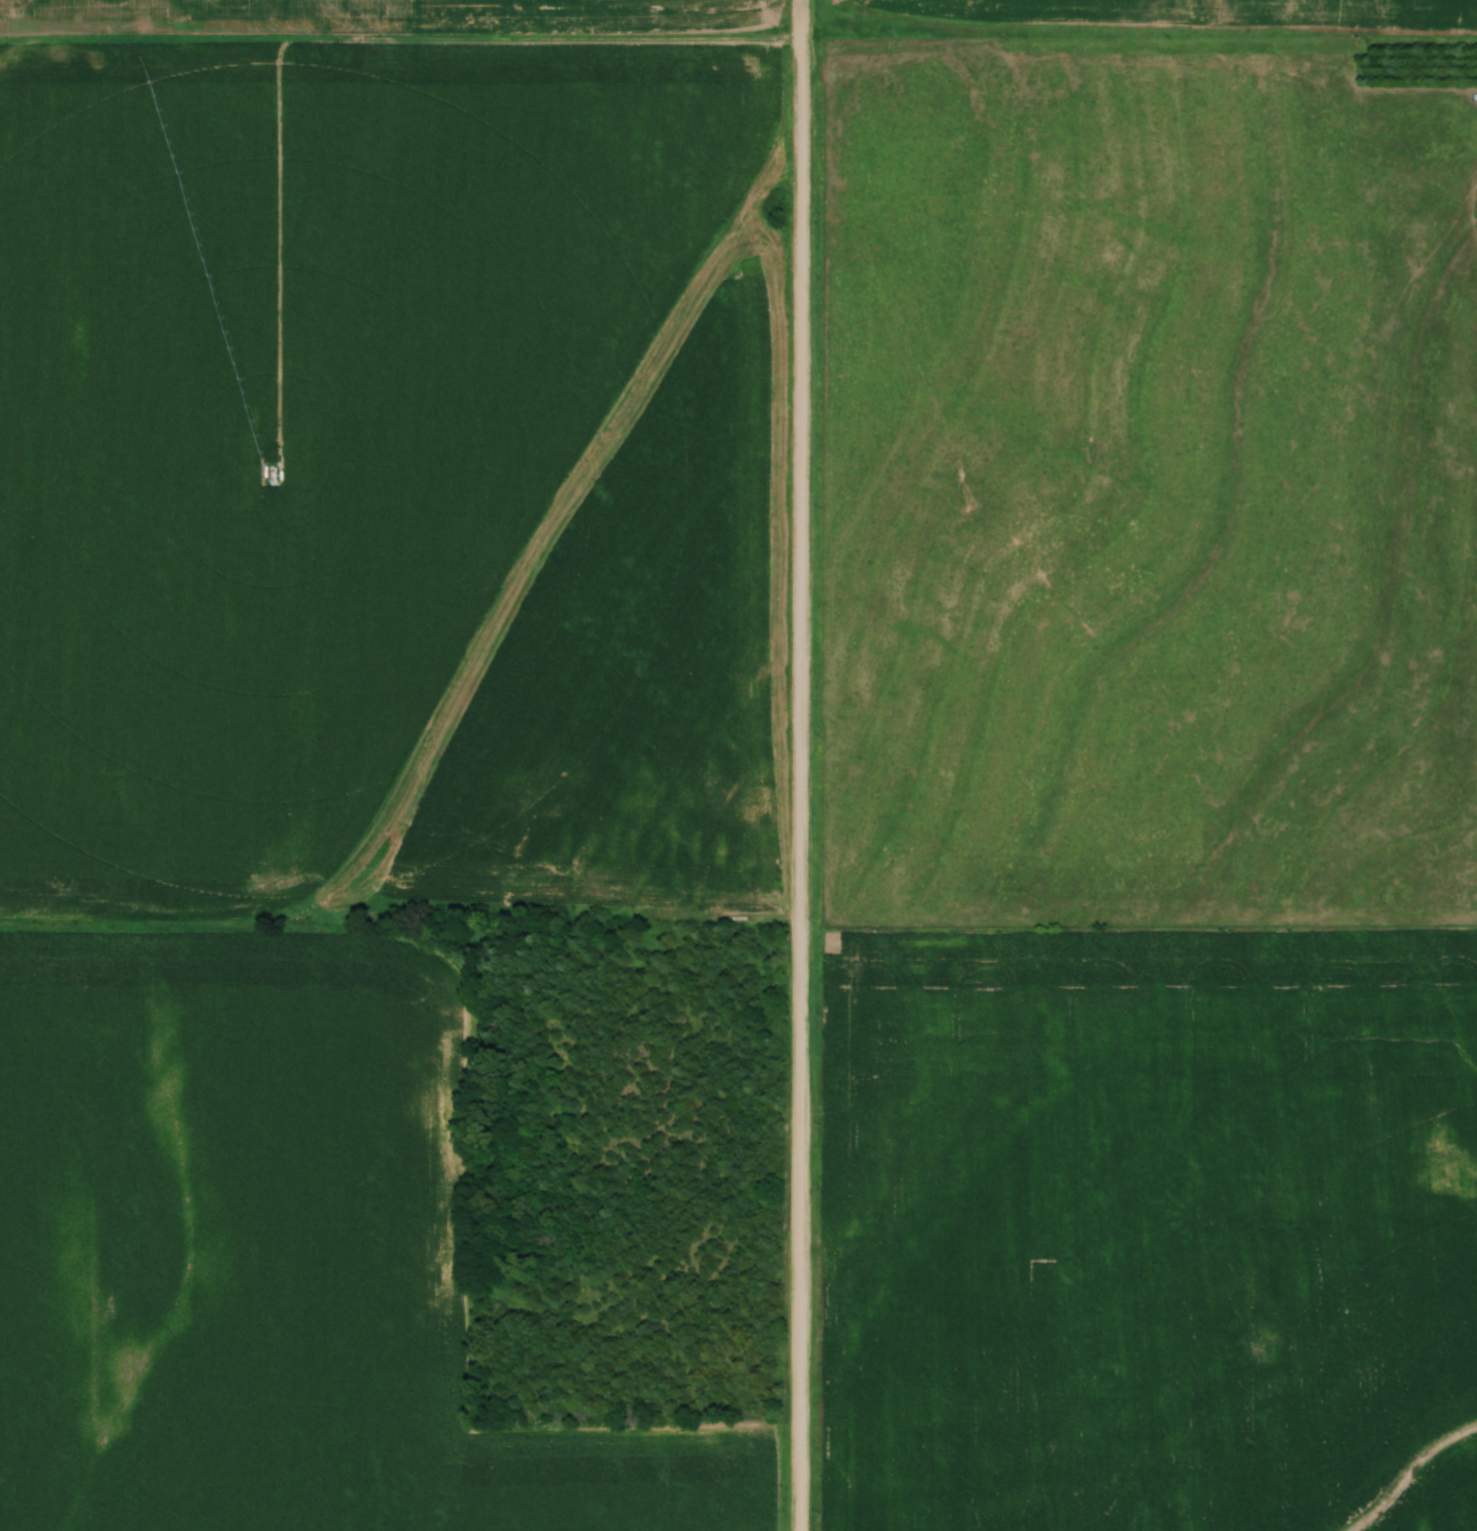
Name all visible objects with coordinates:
road: (800, 765)

